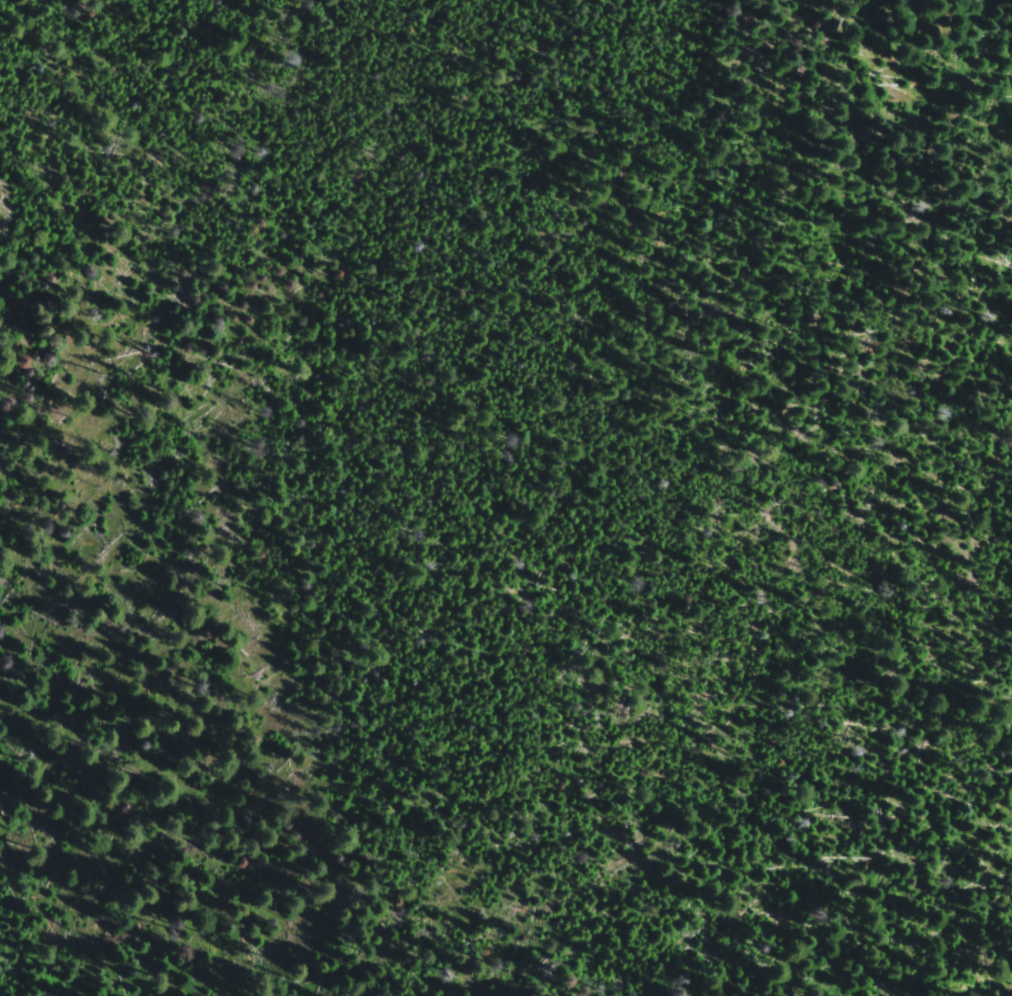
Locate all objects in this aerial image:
road: (951, 51)

